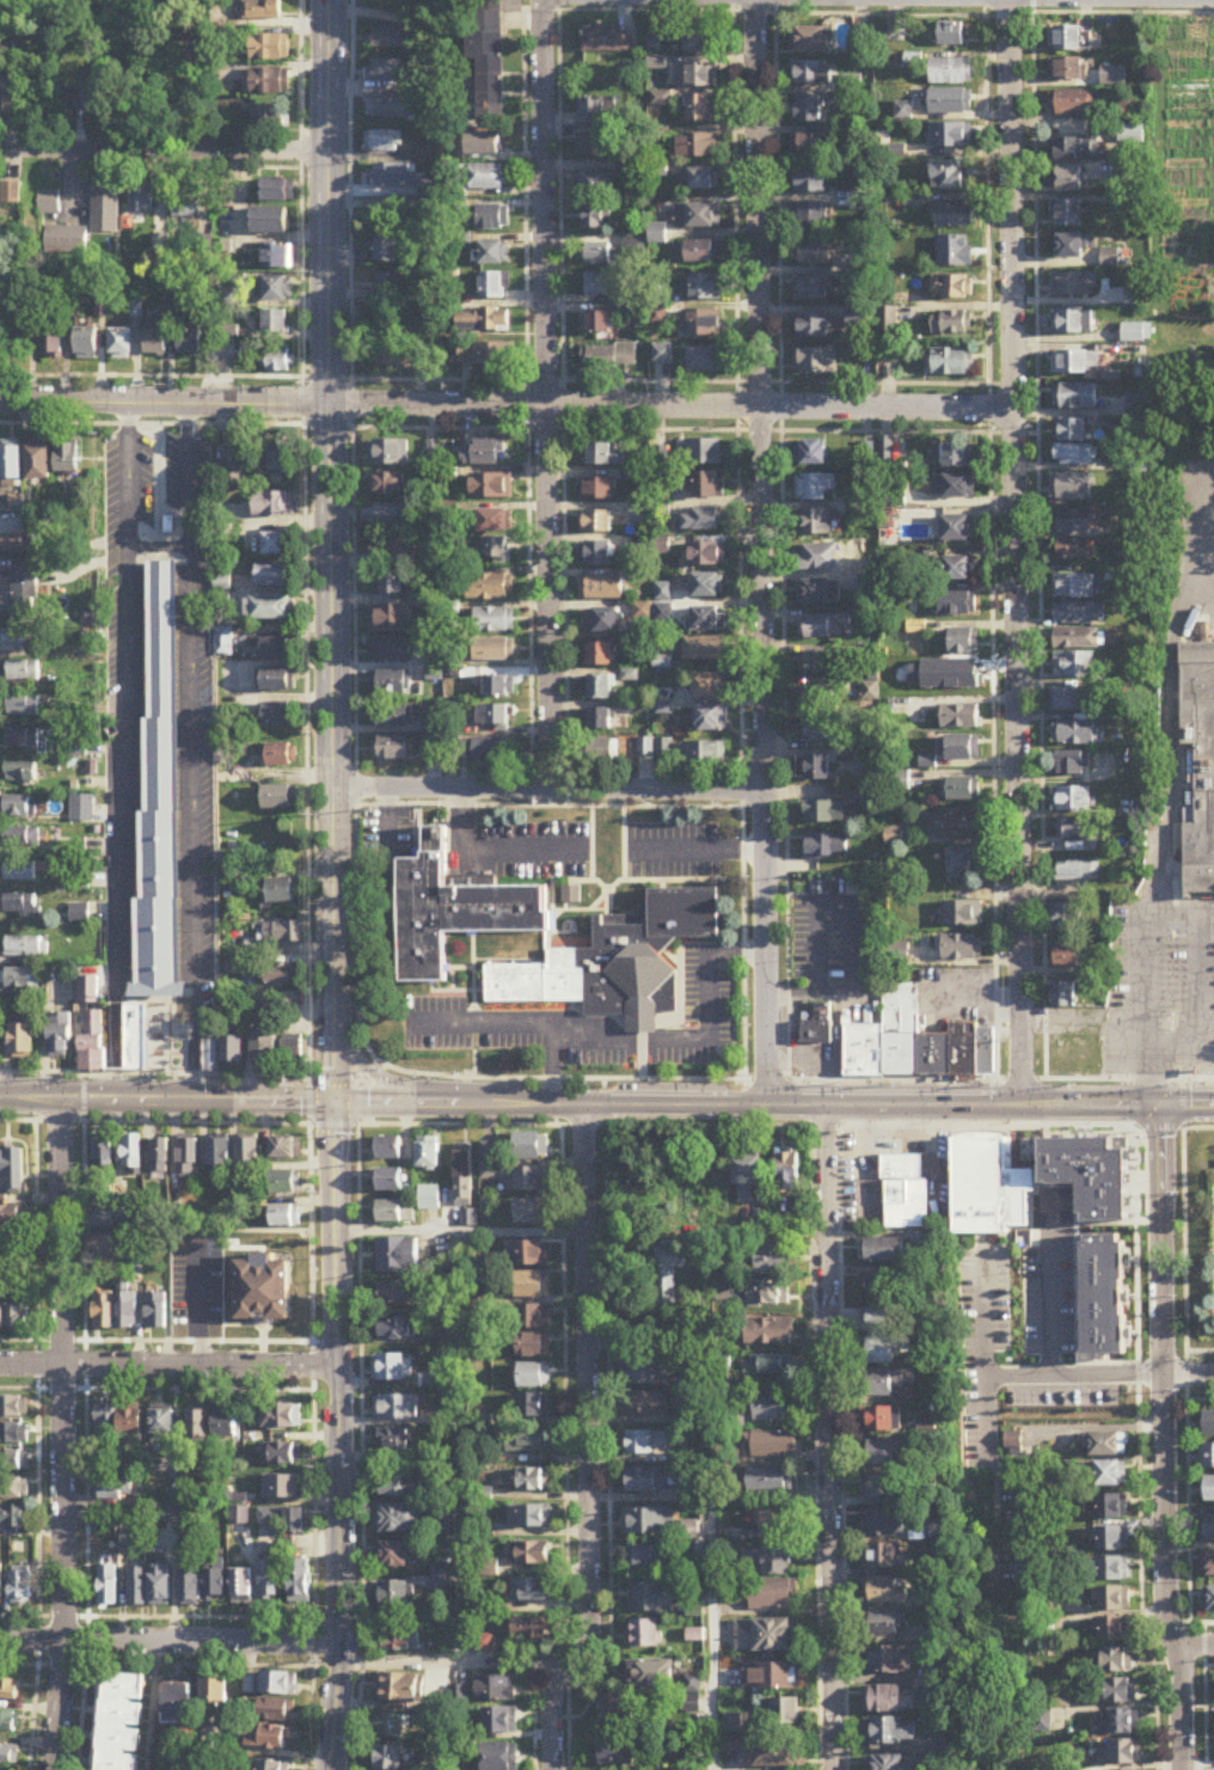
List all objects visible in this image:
building: (262, 11)
road: (869, 14)
building: (951, 35)
building: (391, 38)
building: (1066, 39)
building: (606, 41)
building: (700, 41)
building: (813, 42)
building: (270, 48)
building: (488, 57)
building: (385, 71)
building: (1066, 71)
building: (811, 73)
building: (951, 73)
building: (699, 75)
building: (264, 82)
building: (13, 87)
building: (99, 98)
building: (950, 103)
building: (1069, 104)
building: (385, 106)
building: (704, 109)
building: (594, 110)
building: (809, 110)
building: (272, 117)
building: (950, 136)
building: (382, 142)
building: (484, 143)
building: (594, 145)
building: (698, 147)
building: (810, 147)
building: (1075, 151)
road: (164, 153)
building: (393, 176)
building: (949, 176)
building: (488, 177)
building: (703, 179)
building: (809, 180)
building: (1069, 180)
building: (595, 184)
building: (278, 192)
building: (12, 194)
building: (140, 198)
building: (48, 204)
building: (186, 206)
building: (106, 213)
building: (1066, 215)
building: (809, 216)
building: (493, 218)
building: (595, 218)
building: (697, 218)
building: (954, 218)
building: (270, 222)
building: (421, 222)
building: (222, 231)
building: (657, 235)
road: (241, 238)
building: (66, 241)
building: (1071, 249)
building: (385, 251)
building: (955, 252)
building: (698, 253)
building: (813, 253)
building: (493, 255)
building: (599, 257)
building: (276, 259)
building: (1109, 261)
building: (596, 286)
building: (1073, 286)
building: (492, 287)
building: (951, 288)
building: (387, 289)
building: (705, 289)
building: (810, 289)
building: (277, 290)
building: (1133, 298)
building: (485, 320)
building: (276, 324)
building: (600, 324)
building: (701, 324)
building: (951, 324)
building: (1068, 324)
building: (811, 327)
building: (1135, 335)
building: (157, 342)
road: (31, 343)
building: (191, 343)
building: (51, 344)
building: (87, 344)
building: (121, 345)
building: (223, 351)
building: (661, 354)
building: (484, 355)
building: (400, 356)
building: (611, 359)
building: (277, 361)
building: (705, 361)
building: (814, 361)
building: (952, 363)
building: (1074, 365)
road: (669, 382)
road: (545, 394)
building: (1075, 398)
road: (507, 406)
road: (527, 408)
road: (562, 410)
road: (327, 427)
road: (695, 430)
building: (1072, 433)
building: (388, 453)
building: (483, 453)
building: (703, 453)
building: (810, 454)
building: (605, 455)
building: (1074, 457)
building: (958, 458)
building: (67, 459)
building: (280, 461)
building: (11, 464)
building: (39, 464)
building: (232, 467)
building: (386, 485)
building: (706, 486)
building: (491, 488)
building: (814, 488)
building: (952, 488)
building: (1071, 488)
building: (157, 489)
building: (597, 489)
building: (272, 506)
building: (392, 517)
building: (700, 520)
building: (493, 522)
building: (595, 522)
building: (815, 522)
building: (1071, 522)
road: (1191, 527)
building: (957, 529)
road: (352, 533)
road: (989, 539)
road: (783, 540)
road: (1038, 540)
building: (20, 544)
building: (277, 545)
road: (157, 546)
road: (332, 550)
building: (399, 551)
road: (761, 551)
road: (1016, 551)
building: (496, 552)
building: (595, 553)
building: (1072, 553)
building: (707, 555)
building: (817, 559)
road: (305, 563)
road: (738, 563)
building: (959, 570)
building: (274, 576)
building: (222, 583)
building: (392, 584)
building: (707, 586)
building: (601, 587)
building: (1073, 587)
building: (491, 588)
road: (1201, 589)
building: (32, 590)
building: (818, 593)
building: (956, 605)
building: (270, 610)
building: (1075, 613)
building: (391, 619)
building: (706, 619)
building: (493, 621)
building: (603, 621)
building: (822, 627)
building: (18, 639)
building: (1075, 639)
building: (222, 642)
building: (963, 642)
building: (277, 649)
building: (703, 649)
building: (493, 650)
building: (390, 651)
building: (818, 663)
building: (1073, 666)
building: (23, 672)
building: (612, 672)
building: (958, 674)
building: (276, 681)
building: (390, 684)
building: (709, 687)
building: (498, 688)
building: (817, 698)
building: (1065, 700)
building: (23, 706)
building: (278, 715)
building: (391, 717)
building: (492, 717)
building: (958, 717)
building: (711, 719)
building: (599, 721)
building: (820, 729)
building: (1074, 734)
building: (22, 739)
building: (433, 746)
building: (391, 748)
building: (655, 748)
building: (959, 749)
road: (122, 751)
road: (192, 751)
building: (490, 752)
building: (600, 752)
road: (1167, 753)
park: (161, 754)
building: (704, 754)
building: (281, 757)
building: (1072, 765)
building: (814, 768)
building: (1198, 771)
building: (22, 774)
building: (899, 780)
building: (959, 790)
road: (550, 792)
building: (160, 798)
building: (280, 798)
building: (1072, 801)
road: (548, 807)
building: (17, 808)
building: (826, 813)
building: (956, 825)
building: (1077, 835)
building: (30, 837)
building: (826, 847)
road: (700, 850)
building: (274, 852)
building: (605, 852)
road: (488, 853)
building: (959, 864)
building: (19, 872)
building: (1075, 874)
building: (280, 893)
building: (570, 896)
building: (23, 908)
building: (456, 913)
building: (79, 914)
building: (959, 915)
building: (1065, 918)
building: (278, 935)
building: (26, 948)
building: (959, 949)
building: (1068, 957)
building: (618, 964)
building: (278, 978)
building: (19, 981)
road: (1138, 985)
road: (1201, 985)
parking lot: (1161, 988)
building: (87, 992)
building: (1062, 997)
road: (971, 1006)
road: (489, 1023)
road: (1078, 1023)
building: (817, 1027)
building: (900, 1031)
building: (148, 1033)
building: (61, 1036)
building: (23, 1042)
road: (669, 1042)
building: (93, 1043)
building: (264, 1052)
building: (293, 1052)
building: (864, 1052)
building: (963, 1052)
building: (232, 1053)
building: (985, 1053)
building: (211, 1055)
building: (934, 1057)
road: (372, 1071)
road: (1160, 1077)
road: (337, 1079)
road: (793, 1080)
road: (166, 1100)
traffic signals: (335, 1101)
road: (358, 1102)
road: (459, 1103)
road: (899, 1104)
traffic signals: (1160, 1104)
road: (1182, 1104)
road: (761, 1128)
building: (529, 1149)
building: (286, 1150)
building: (390, 1150)
building: (131, 1153)
building: (102, 1155)
building: (219, 1155)
building: (247, 1155)
building: (428, 1155)
building: (158, 1158)
building: (186, 1158)
building: (489, 1163)
building: (12, 1172)
building: (1087, 1172)
building: (789, 1174)
building: (464, 1176)
building: (747, 1180)
building: (528, 1181)
building: (390, 1182)
building: (286, 1183)
building: (905, 1190)
building: (989, 1190)
building: (429, 1199)
building: (396, 1213)
building: (532, 1213)
building: (10, 1215)
building: (284, 1218)
building: (467, 1219)
road: (30, 1227)
road: (460, 1231)
road: (223, 1244)
building: (105, 1250)
building: (887, 1251)
building: (531, 1255)
building: (398, 1257)
building: (765, 1258)
road: (964, 1266)
building: (669, 1274)
building: (529, 1286)
building: (887, 1286)
building: (264, 1291)
building: (396, 1294)
building: (770, 1296)
building: (1097, 1296)
building: (2, 1312)
building: (18, 1312)
building: (127, 1312)
building: (157, 1312)
building: (104, 1313)
building: (533, 1318)
parking lot: (999, 1325)
building: (398, 1331)
building: (688, 1333)
building: (768, 1335)
road: (295, 1340)
building: (879, 1340)
building: (534, 1347)
building: (768, 1366)
road: (168, 1368)
building: (392, 1368)
building: (643, 1373)
road: (1183, 1374)
road: (1187, 1376)
building: (533, 1377)
road: (1095, 1377)
building: (883, 1385)
building: (648, 1404)
building: (1109, 1407)
building: (533, 1408)
building: (396, 1409)
building: (773, 1409)
building: (14, 1410)
building: (276, 1419)
building: (878, 1422)
building: (118, 1425)
building: (1208, 1425)
building: (226, 1426)
road: (1135, 1426)
building: (163, 1428)
building: (198, 1428)
road: (62, 1434)
road: (338, 1435)
building: (14, 1437)
road: (828, 1437)
road: (1160, 1438)
building: (526, 1441)
road: (588, 1443)
road: (710, 1443)
building: (396, 1444)
building: (646, 1445)
building: (1102, 1445)
building: (773, 1446)
building: (1011, 1446)
building: (883, 1456)
building: (281, 1457)
building: (1208, 1458)
building: (13, 1463)
building: (1106, 1474)
building: (531, 1482)
building: (646, 1482)
building: (771, 1483)
building: (401, 1488)
building: (283, 1489)
building: (884, 1490)
building: (1209, 1490)
building: (13, 1492)
building: (116, 1494)
building: (483, 1495)
building: (1111, 1507)
building: (240, 1518)
building: (269, 1518)
building: (529, 1518)
building: (14, 1519)
building: (399, 1521)
building: (295, 1524)
building: (649, 1524)
building: (885, 1524)
building: (777, 1525)
building: (1207, 1531)
building: (1112, 1538)
building: (134, 1545)
building: (531, 1556)
building: (882, 1556)
building: (393, 1557)
building: (648, 1557)
building: (766, 1562)
building: (1207, 1566)
building: (488, 1569)
building: (1112, 1569)
building: (1024, 1572)
building: (300, 1582)
building: (215, 1584)
building: (270, 1584)
building: (241, 1586)
building: (1, 1587)
building: (160, 1587)
building: (190, 1587)
building: (108, 1588)
building: (137, 1588)
building: (22, 1590)
building: (884, 1591)
building: (529, 1592)
building: (761, 1596)
building: (396, 1599)
building: (652, 1599)
building: (1111, 1599)
building: (1210, 1600)
road: (1176, 1622)
building: (885, 1623)
building: (529, 1629)
building: (1112, 1630)
building: (645, 1634)
building: (762, 1635)
building: (403, 1642)
road: (171, 1645)
road: (1192, 1646)
building: (891, 1659)
building: (1116, 1660)
road: (458, 1665)
road: (1208, 1665)
building: (650, 1673)
building: (772, 1678)
building: (277, 1683)
building: (400, 1688)
building: (496, 1689)
building: (10, 1690)
building: (1120, 1691)
road: (1202, 1695)
building: (888, 1699)
building: (220, 1701)
building: (178, 1704)
building: (276, 1710)
building: (787, 1711)
building: (8, 1720)
building: (1213, 1720)
building: (118, 1721)
building: (499, 1721)
building: (1118, 1721)
building: (392, 1726)
building: (605, 1729)
building: (889, 1731)
building: (734, 1733)
building: (268, 1737)
building: (775, 1752)
building: (1122, 1752)
building: (8, 1754)
building: (496, 1757)
building: (390, 1758)
building: (890, 1763)
building: (271, 1766)

